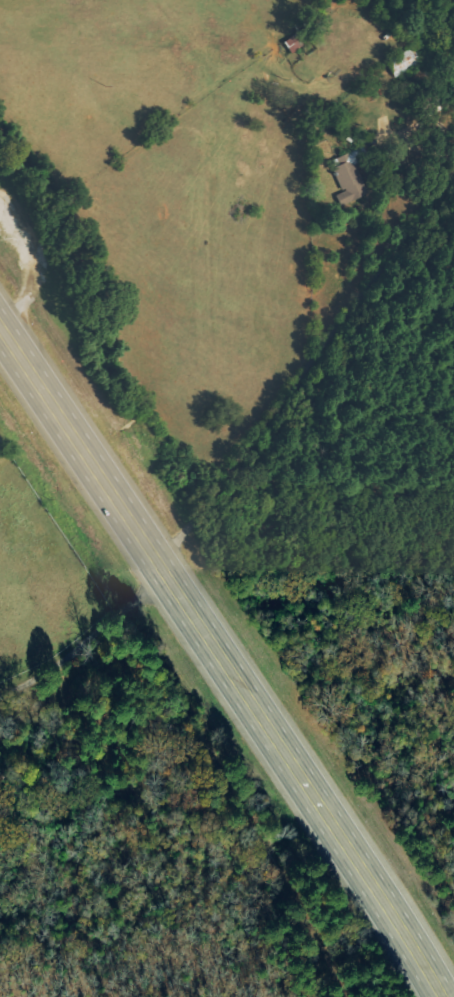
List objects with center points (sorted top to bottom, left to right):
building: (404, 62)
building: (352, 176)
road: (163, 562)
road: (221, 661)

